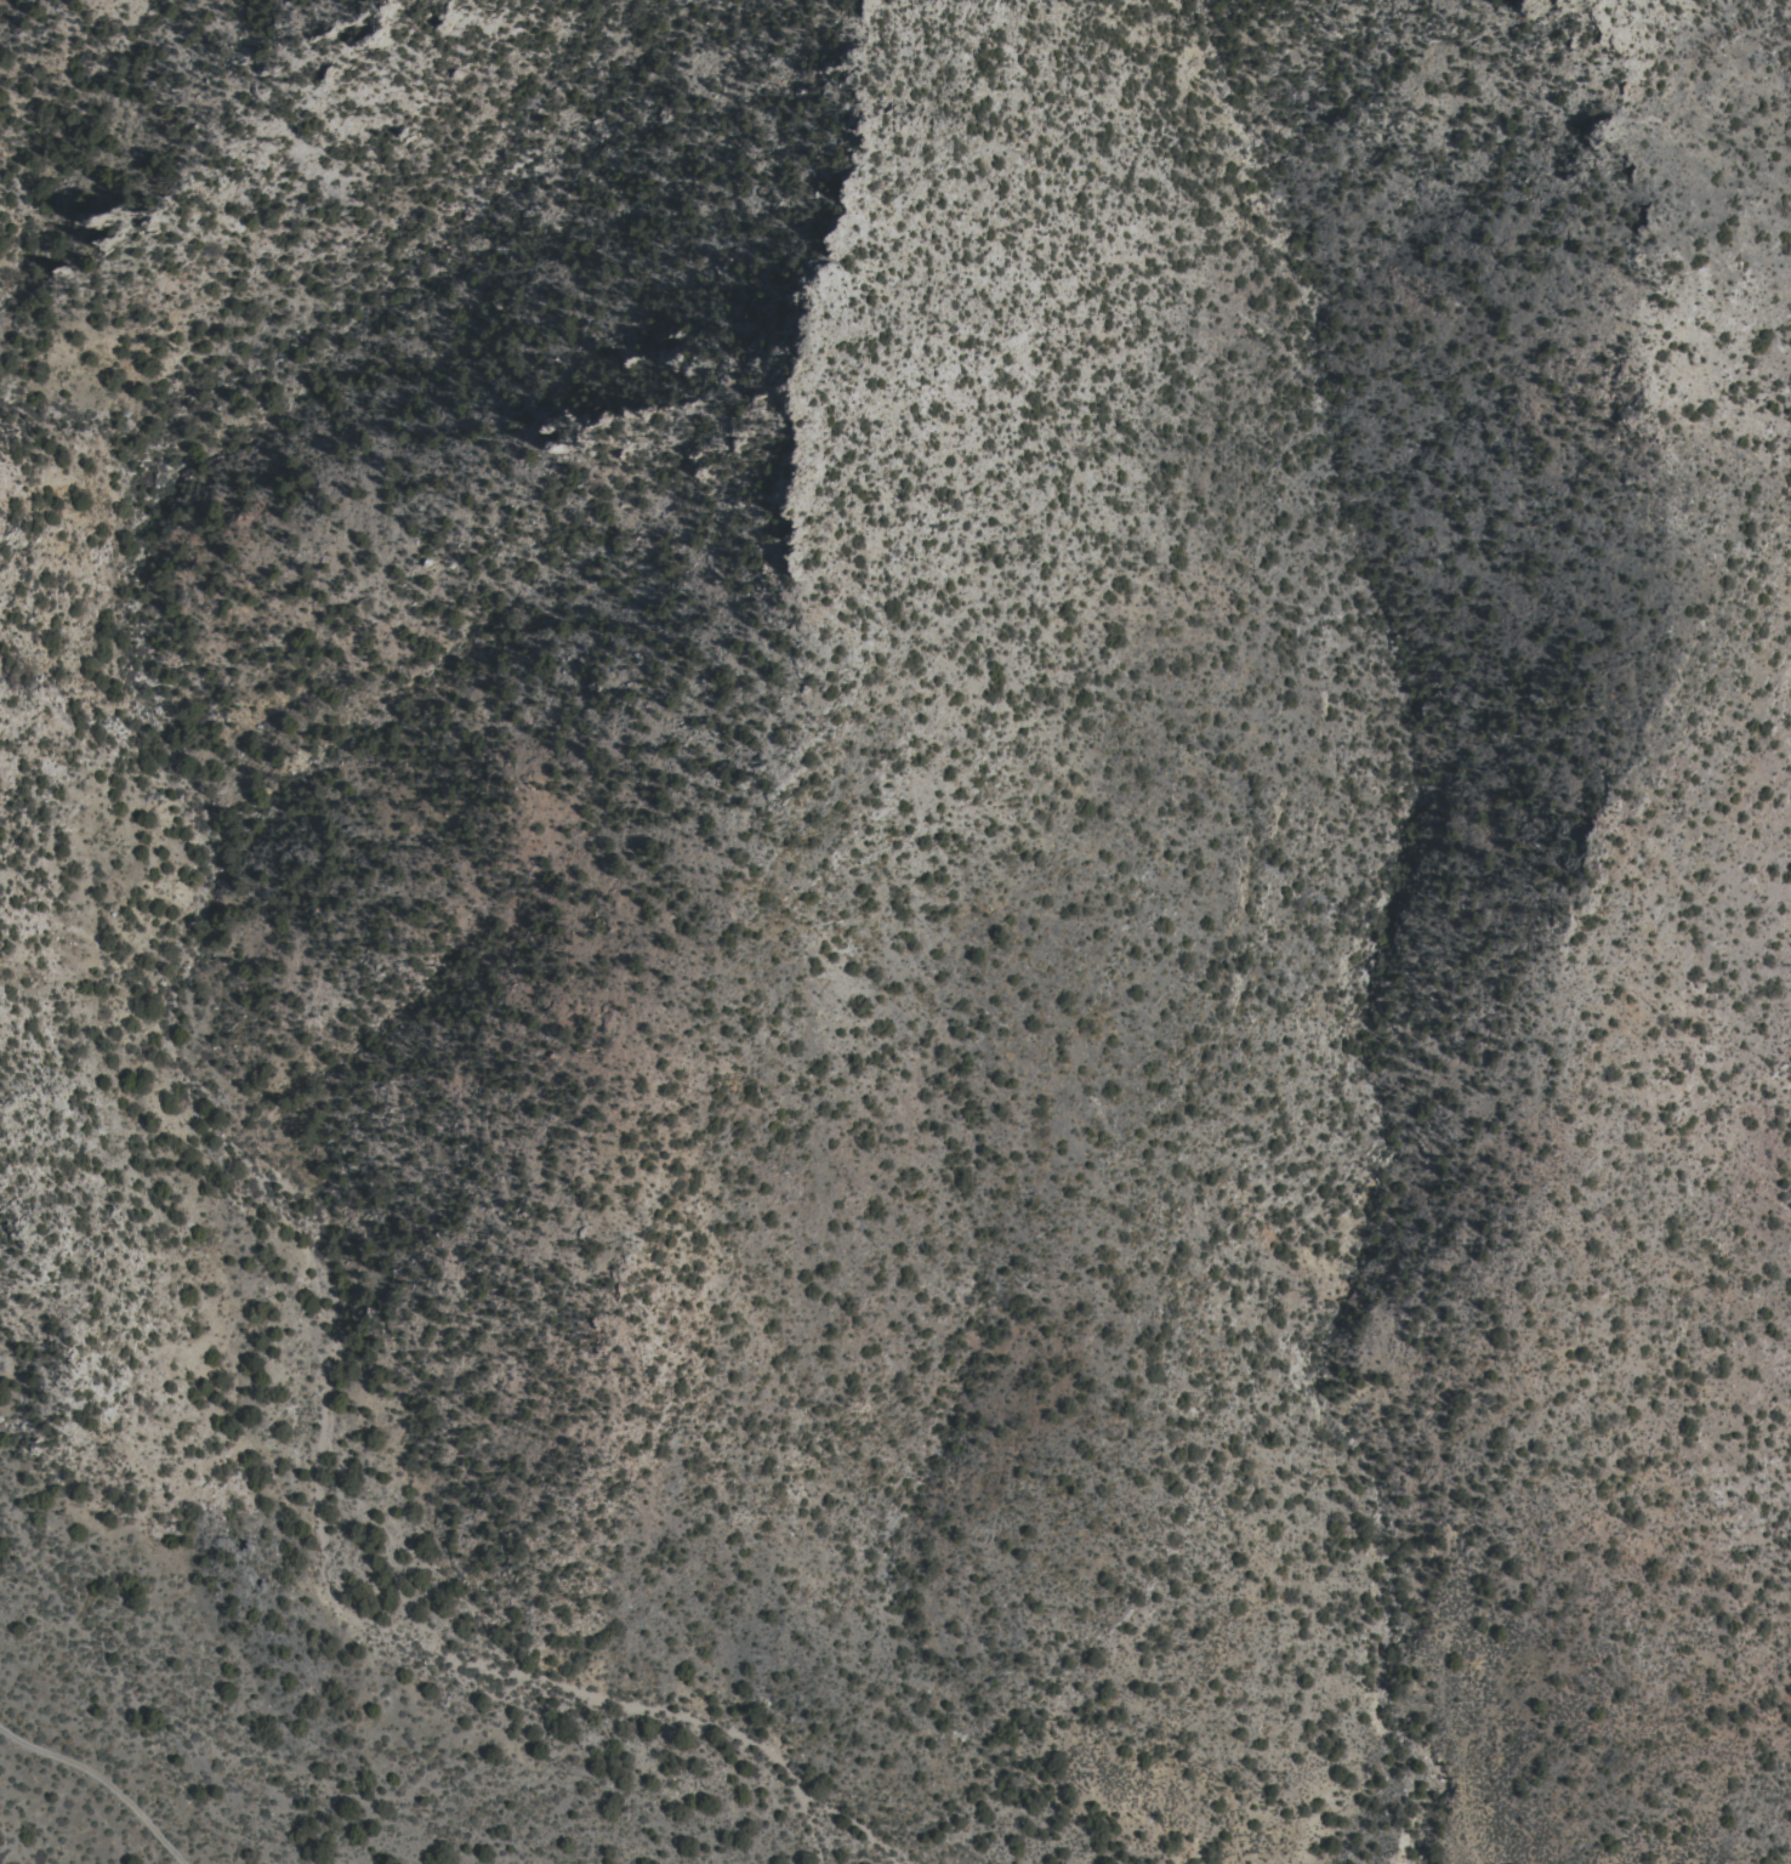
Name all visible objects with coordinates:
road: (23, 1837)

